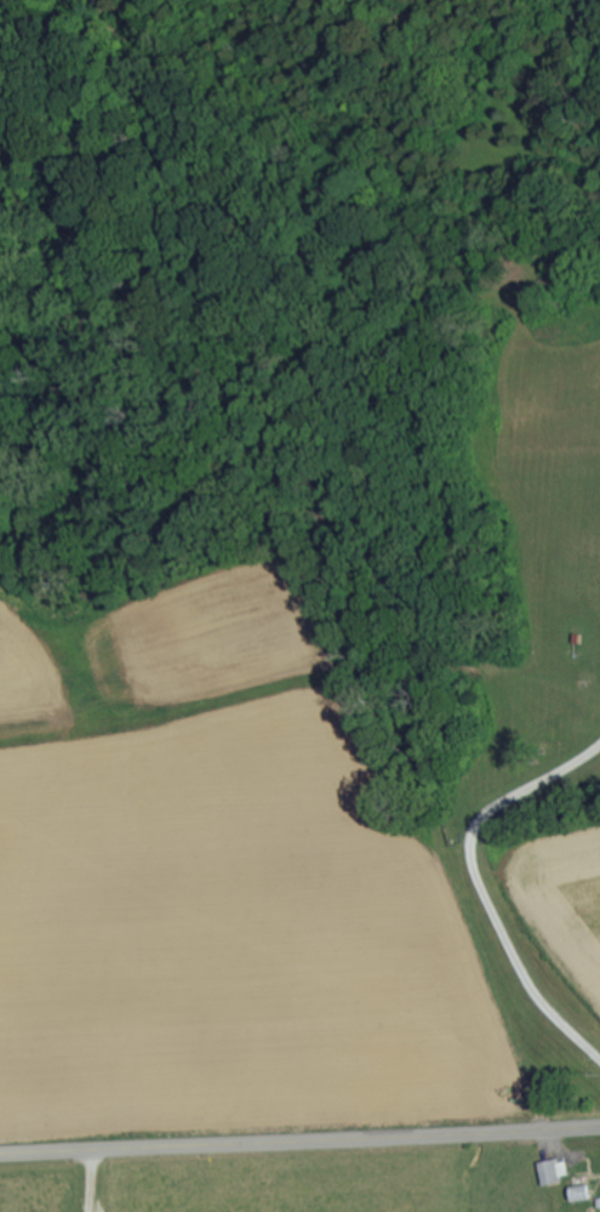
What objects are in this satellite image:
road: (299, 1140)
building: (545, 1172)
road: (88, 1180)
building: (576, 1193)

